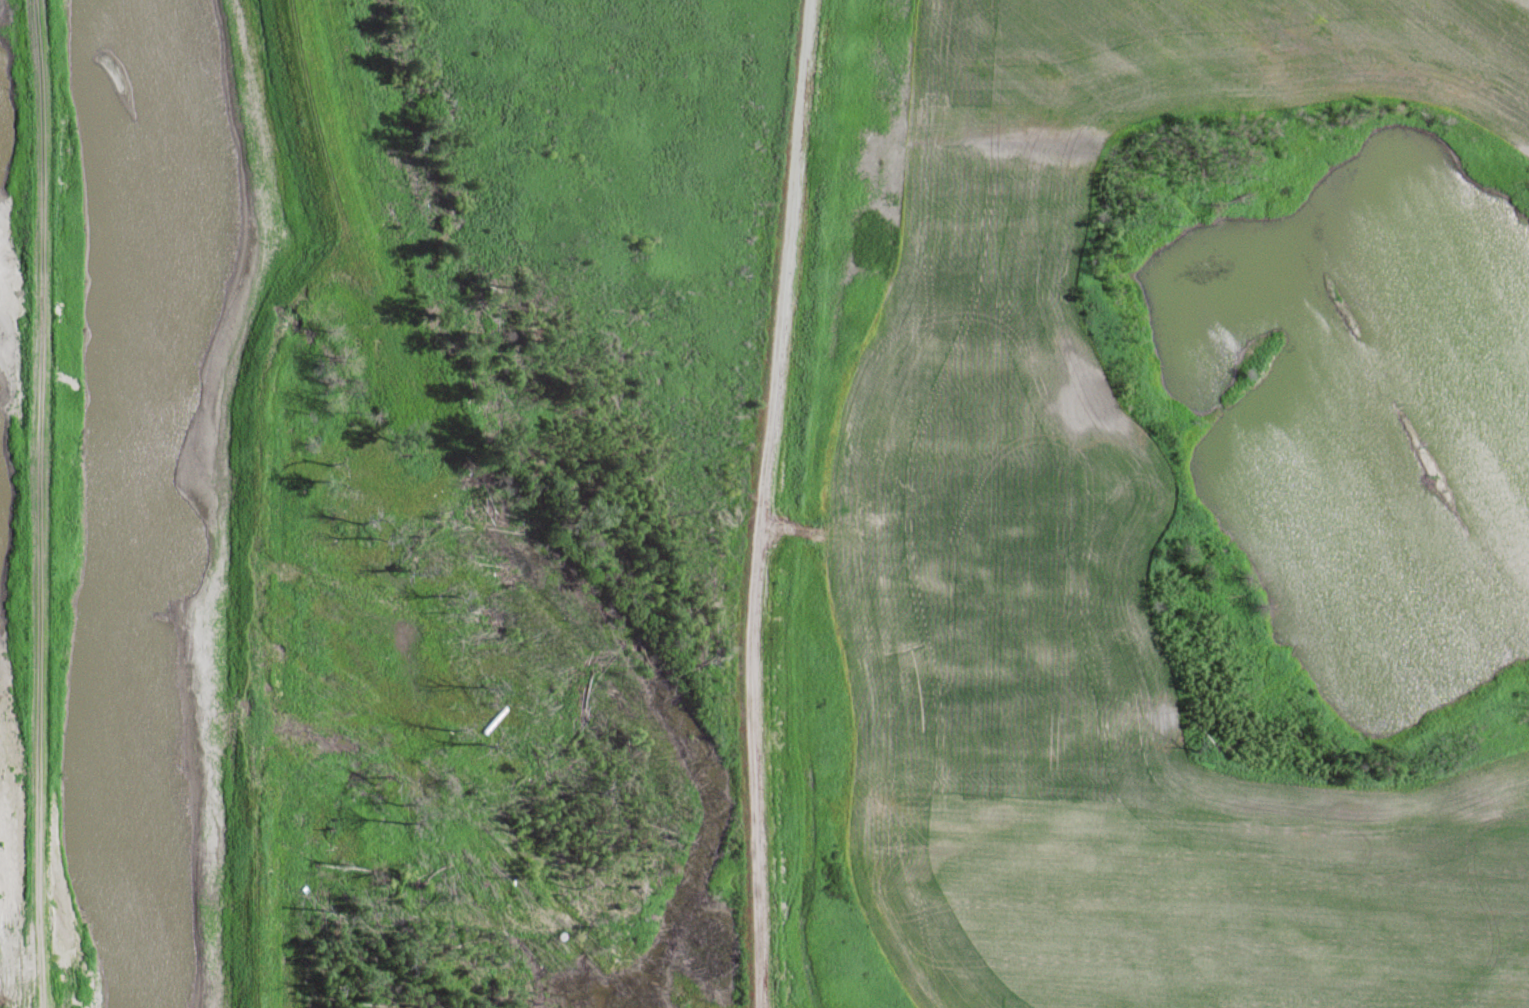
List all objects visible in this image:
road: (763, 503)

